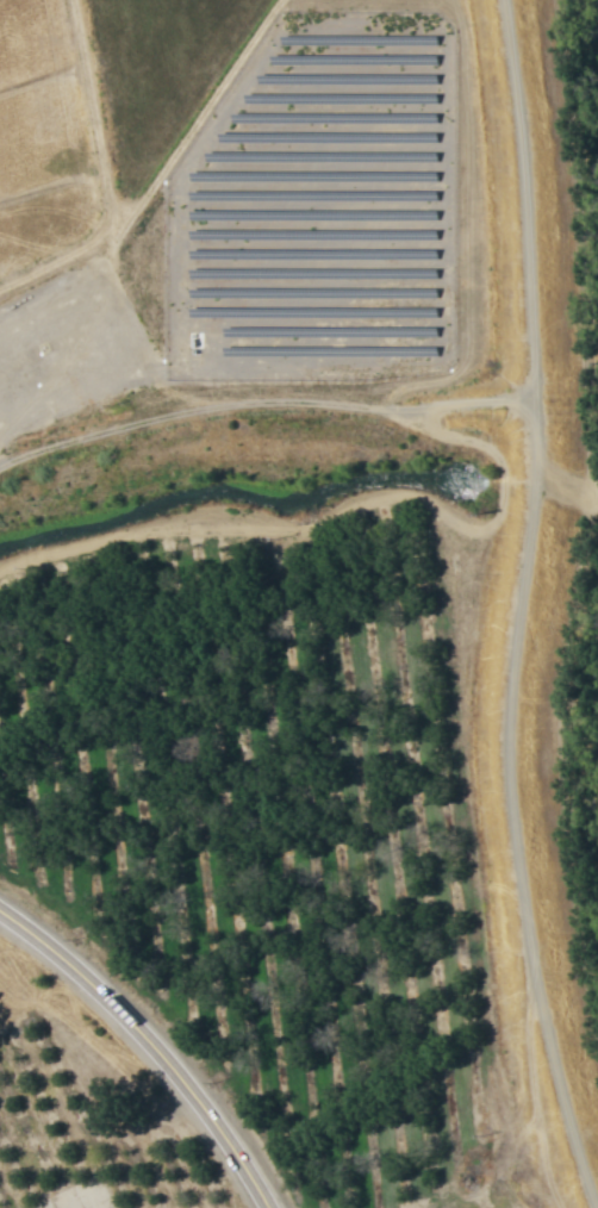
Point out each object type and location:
road: (260, 403)
road: (517, 606)
road: (150, 1045)

